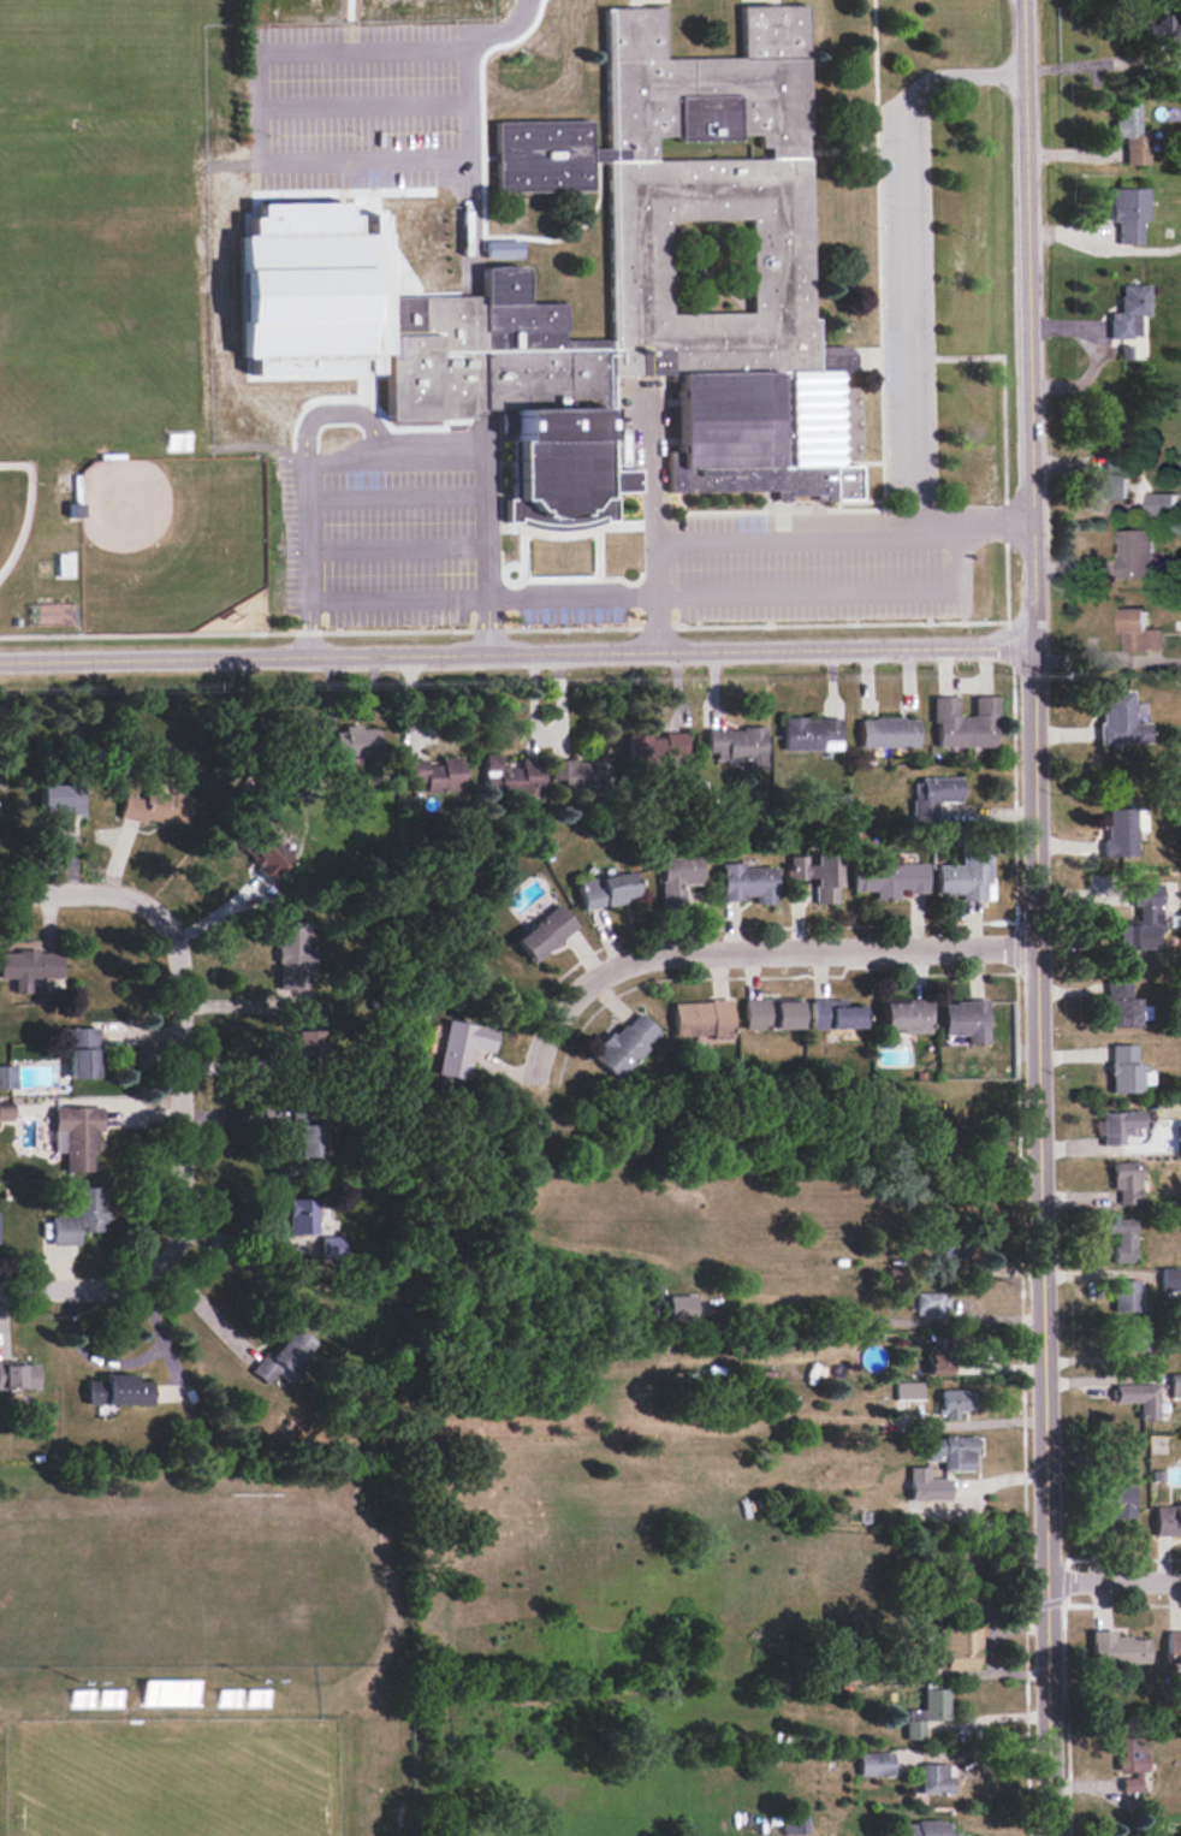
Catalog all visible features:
building: (1162, 28)
building: (1133, 134)
building: (384, 177)
building: (1130, 212)
road: (279, 238)
road: (907, 255)
building: (655, 278)
building: (1130, 310)
road: (403, 438)
building: (1115, 478)
building: (1159, 503)
park: (14, 508)
road: (815, 537)
park: (170, 541)
building: (1135, 553)
road: (509, 598)
building: (1139, 632)
road: (516, 653)
road: (1108, 661)
building: (1121, 718)
building: (965, 722)
building: (888, 732)
building: (811, 734)
building: (356, 741)
building: (737, 745)
building: (658, 748)
building: (582, 772)
building: (438, 774)
building: (515, 775)
building: (932, 795)
building: (64, 798)
building: (155, 805)
building: (1122, 830)
building: (267, 854)
building: (966, 877)
building: (677, 878)
building: (889, 878)
building: (748, 882)
building: (609, 889)
road: (84, 893)
road: (1034, 918)
building: (1143, 919)
building: (545, 932)
road: (752, 953)
building: (295, 955)
building: (29, 966)
building: (1122, 1005)
building: (771, 1014)
building: (833, 1014)
building: (906, 1015)
building: (702, 1018)
building: (965, 1019)
building: (307, 1042)
building: (625, 1043)
building: (463, 1047)
building: (83, 1052)
building: (1126, 1070)
building: (7, 1076)
road: (178, 1091)
building: (5, 1112)
building: (1118, 1125)
building: (304, 1131)
building: (1179, 1131)
building: (76, 1136)
building: (1127, 1181)
building: (81, 1215)
building: (302, 1215)
building: (1121, 1238)
building: (331, 1246)
building: (950, 1249)
building: (1169, 1278)
road: (83, 1285)
building: (1124, 1295)
building: (930, 1304)
building: (682, 1307)
road: (879, 1320)
building: (1135, 1339)
building: (283, 1357)
building: (938, 1360)
building: (18, 1375)
building: (1175, 1381)
building: (117, 1390)
building: (908, 1390)
building: (1139, 1398)
building: (954, 1402)
building: (951, 1451)
building: (926, 1485)
building: (1116, 1500)
building: (1167, 1520)
road: (1114, 1580)
building: (1173, 1646)
building: (957, 1647)
building: (1117, 1648)
building: (170, 1692)
building: (926, 1712)
road: (985, 1718)
building: (1132, 1761)
building: (874, 1764)
building: (934, 1778)
building: (794, 1824)
building: (933, 1828)

